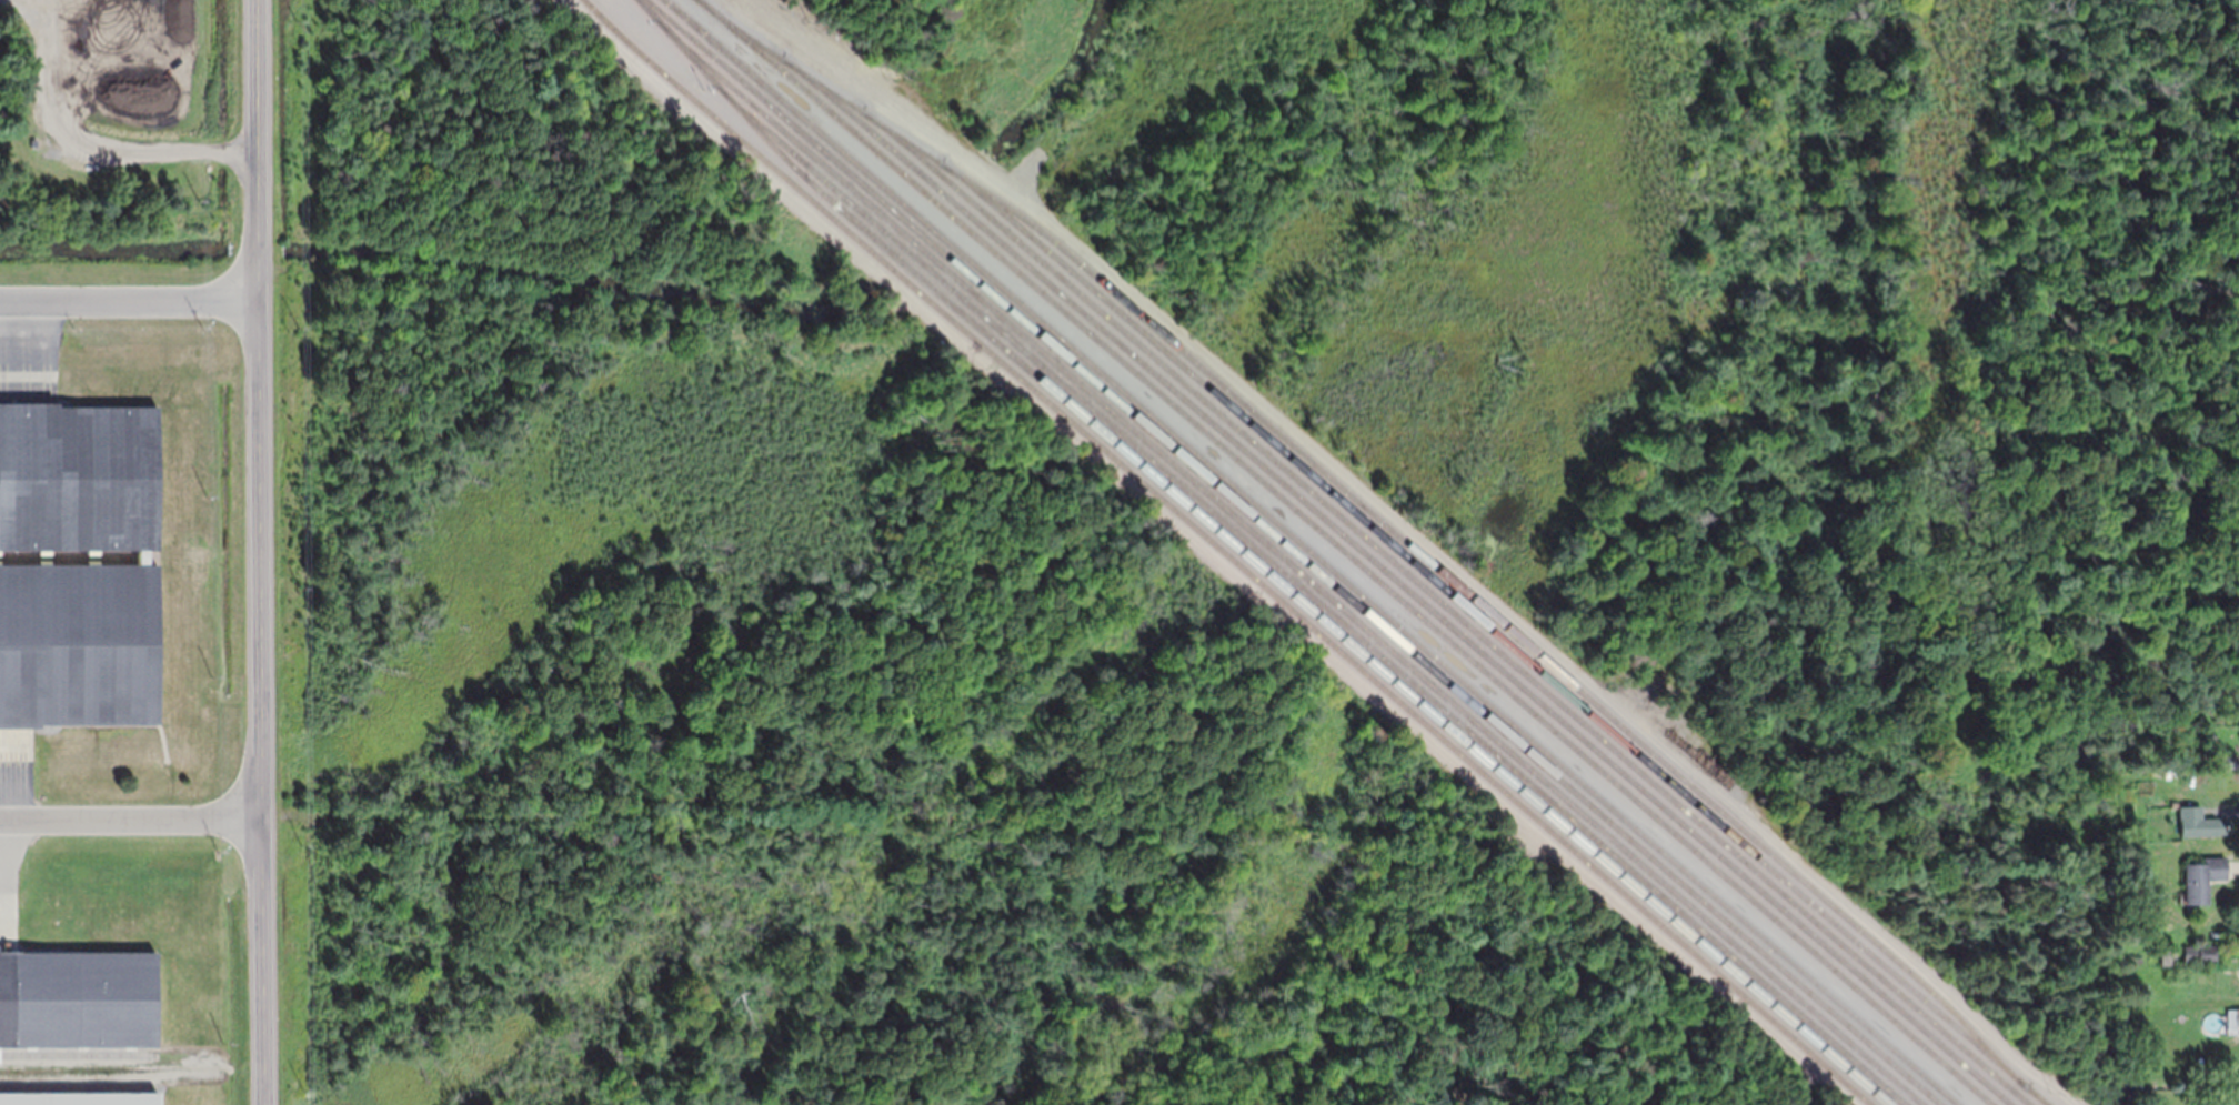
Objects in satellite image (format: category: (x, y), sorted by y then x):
road: (127, 301)
railway: (1380, 519)
road: (253, 552)
railway: (1294, 552)
railway: (1311, 552)
road: (1329, 552)
railway: (1346, 552)
railway: (1226, 553)
railway: (1282, 555)
railway: (56, 556)
railway: (1254, 562)
building: (78, 564)
railway: (56, 572)
railway: (1397, 580)
railway: (1311, 595)
railway: (1447, 606)
railway: (1496, 633)
road: (128, 818)
building: (2209, 827)
building: (2199, 878)
building: (2198, 953)
building: (77, 998)
building: (2231, 1017)
railway: (77, 1054)
railway: (78, 1085)
building: (79, 1097)

